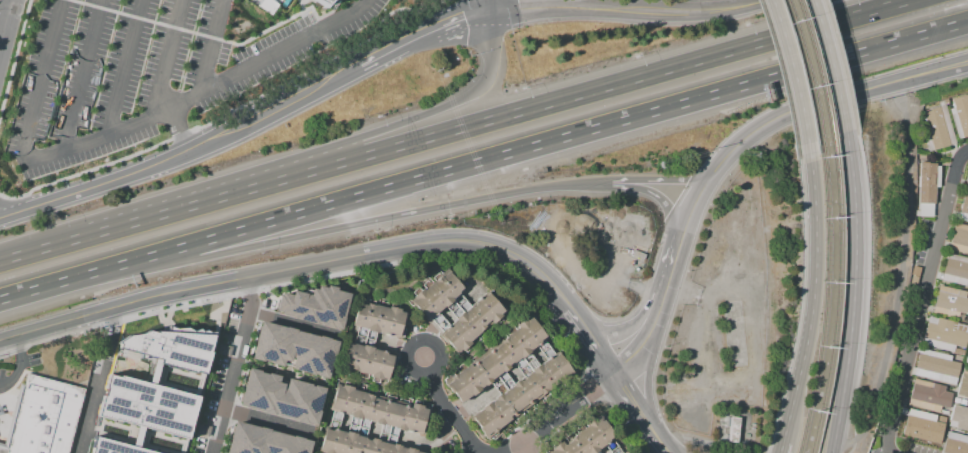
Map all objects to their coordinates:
building: (319, 1)
road: (495, 5)
road: (537, 5)
road: (360, 6)
road: (694, 6)
traffic signals: (496, 11)
road: (675, 13)
road: (6, 25)
road: (2, 30)
road: (428, 33)
road: (210, 49)
road: (866, 53)
road: (167, 60)
road: (839, 62)
road: (829, 63)
road: (124, 67)
road: (784, 67)
railway: (819, 72)
road: (82, 74)
railway: (809, 74)
road: (44, 81)
road: (195, 99)
building: (945, 102)
road: (794, 111)
road: (512, 113)
building: (960, 115)
building: (935, 128)
road: (181, 132)
road: (334, 146)
road: (187, 152)
road: (964, 153)
road: (449, 172)
road: (665, 182)
building: (966, 182)
road: (615, 183)
building: (926, 188)
road: (661, 202)
building: (964, 209)
road: (369, 221)
building: (959, 238)
road: (54, 243)
road: (673, 263)
road: (867, 267)
road: (292, 270)
building: (955, 270)
road: (900, 275)
road: (621, 280)
road: (67, 281)
road: (857, 287)
road: (811, 290)
railway: (840, 300)
railway: (829, 302)
road: (923, 302)
building: (313, 303)
building: (950, 303)
road: (660, 305)
building: (454, 311)
road: (567, 314)
road: (625, 328)
building: (944, 334)
building: (373, 341)
road: (588, 347)
building: (292, 351)
building: (958, 351)
road: (748, 352)
road: (633, 353)
building: (966, 358)
building: (500, 360)
road: (237, 365)
building: (935, 366)
road: (19, 367)
road: (647, 379)
road: (98, 381)
building: (963, 383)
building: (150, 388)
building: (520, 395)
building: (928, 396)
building: (279, 398)
building: (956, 400)
building: (962, 402)
road: (628, 405)
road: (446, 407)
building: (943, 413)
building: (44, 416)
road: (550, 418)
building: (959, 418)
building: (370, 422)
building: (922, 427)
building: (732, 429)
road: (854, 432)
building: (587, 438)
building: (261, 442)
building: (955, 443)
road: (656, 444)
road: (527, 445)
building: (3, 448)
road: (780, 448)
road: (782, 448)
road: (834, 450)
building: (624, 452)
road: (888, 452)

